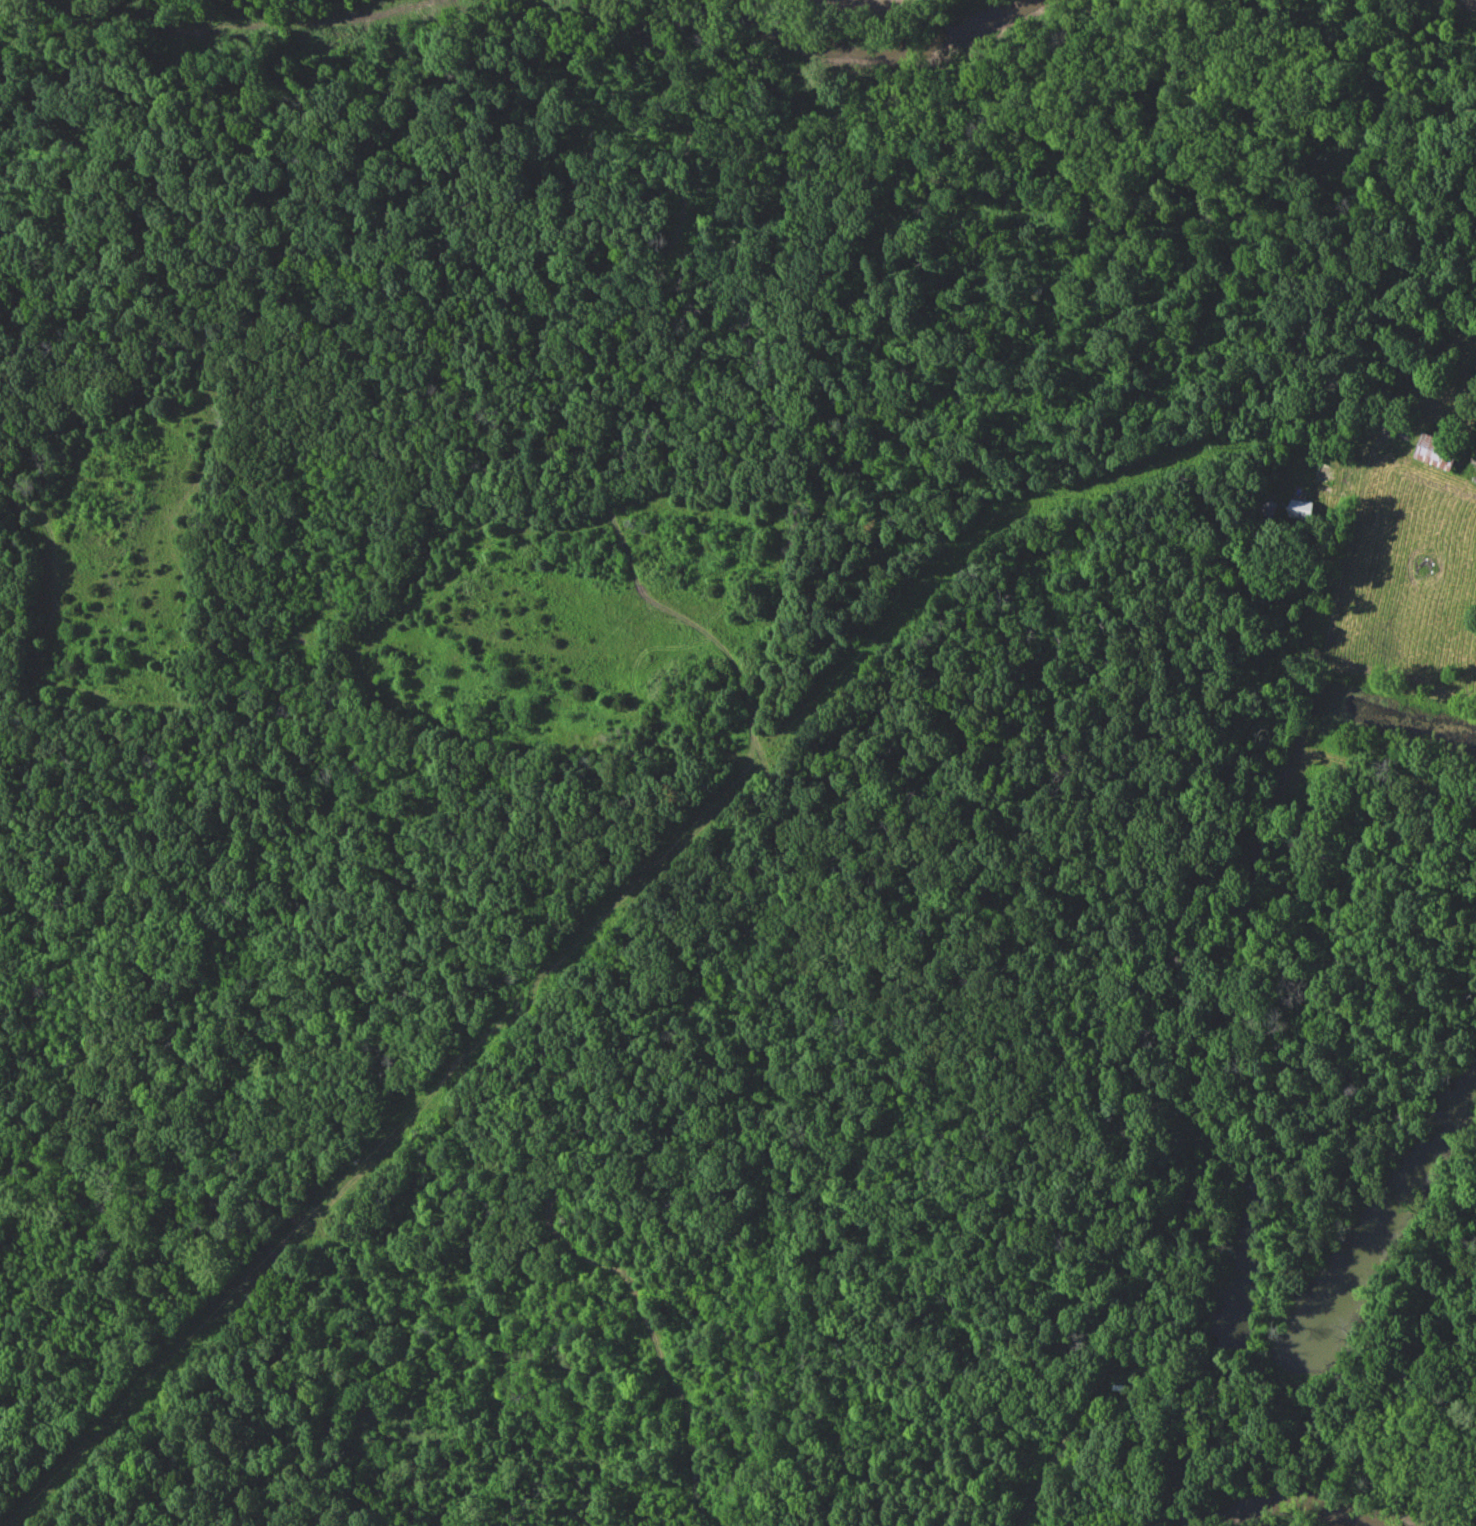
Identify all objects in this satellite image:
river: (877, 51)
building: (1437, 453)
river: (1290, 1500)

